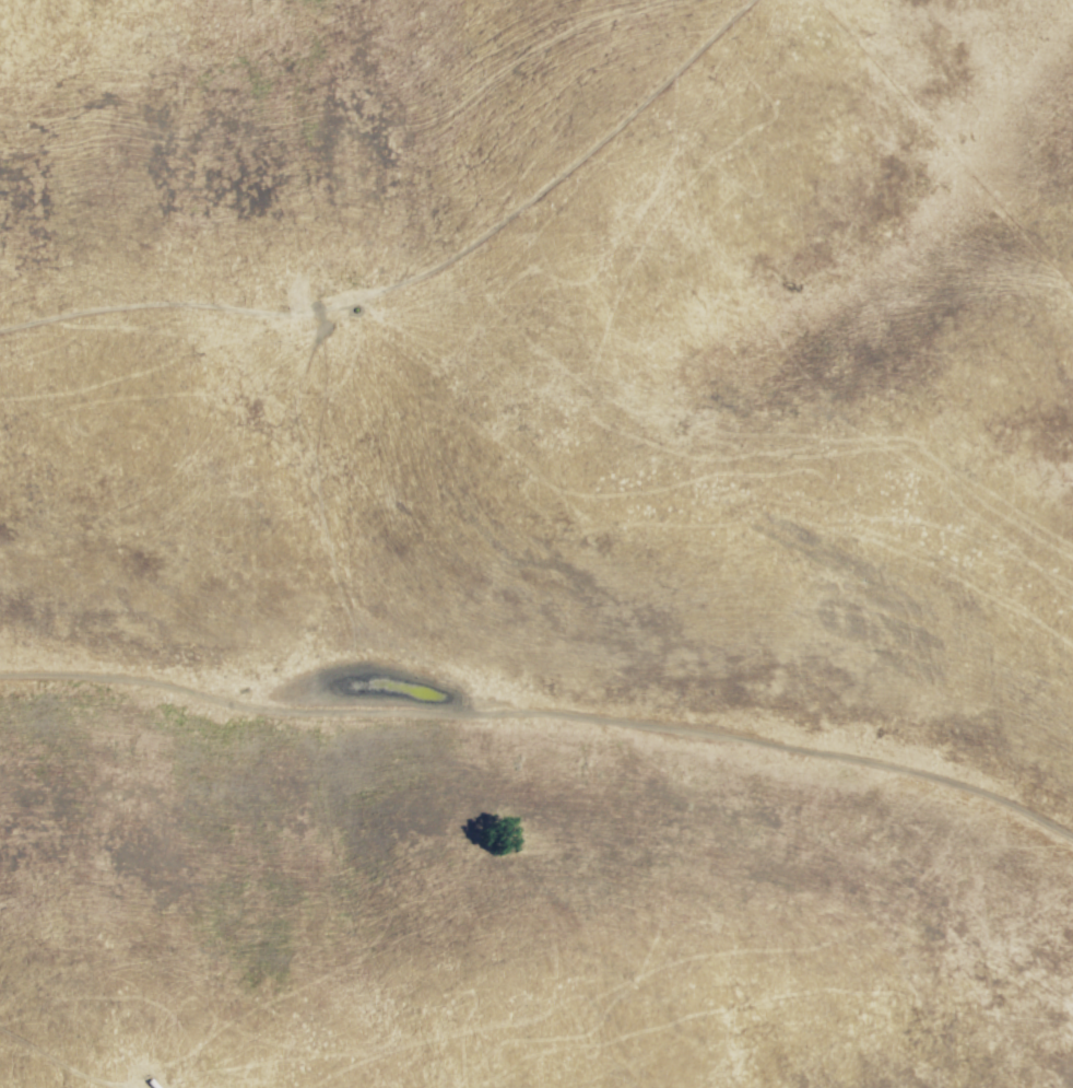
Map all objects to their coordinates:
road: (543, 724)

